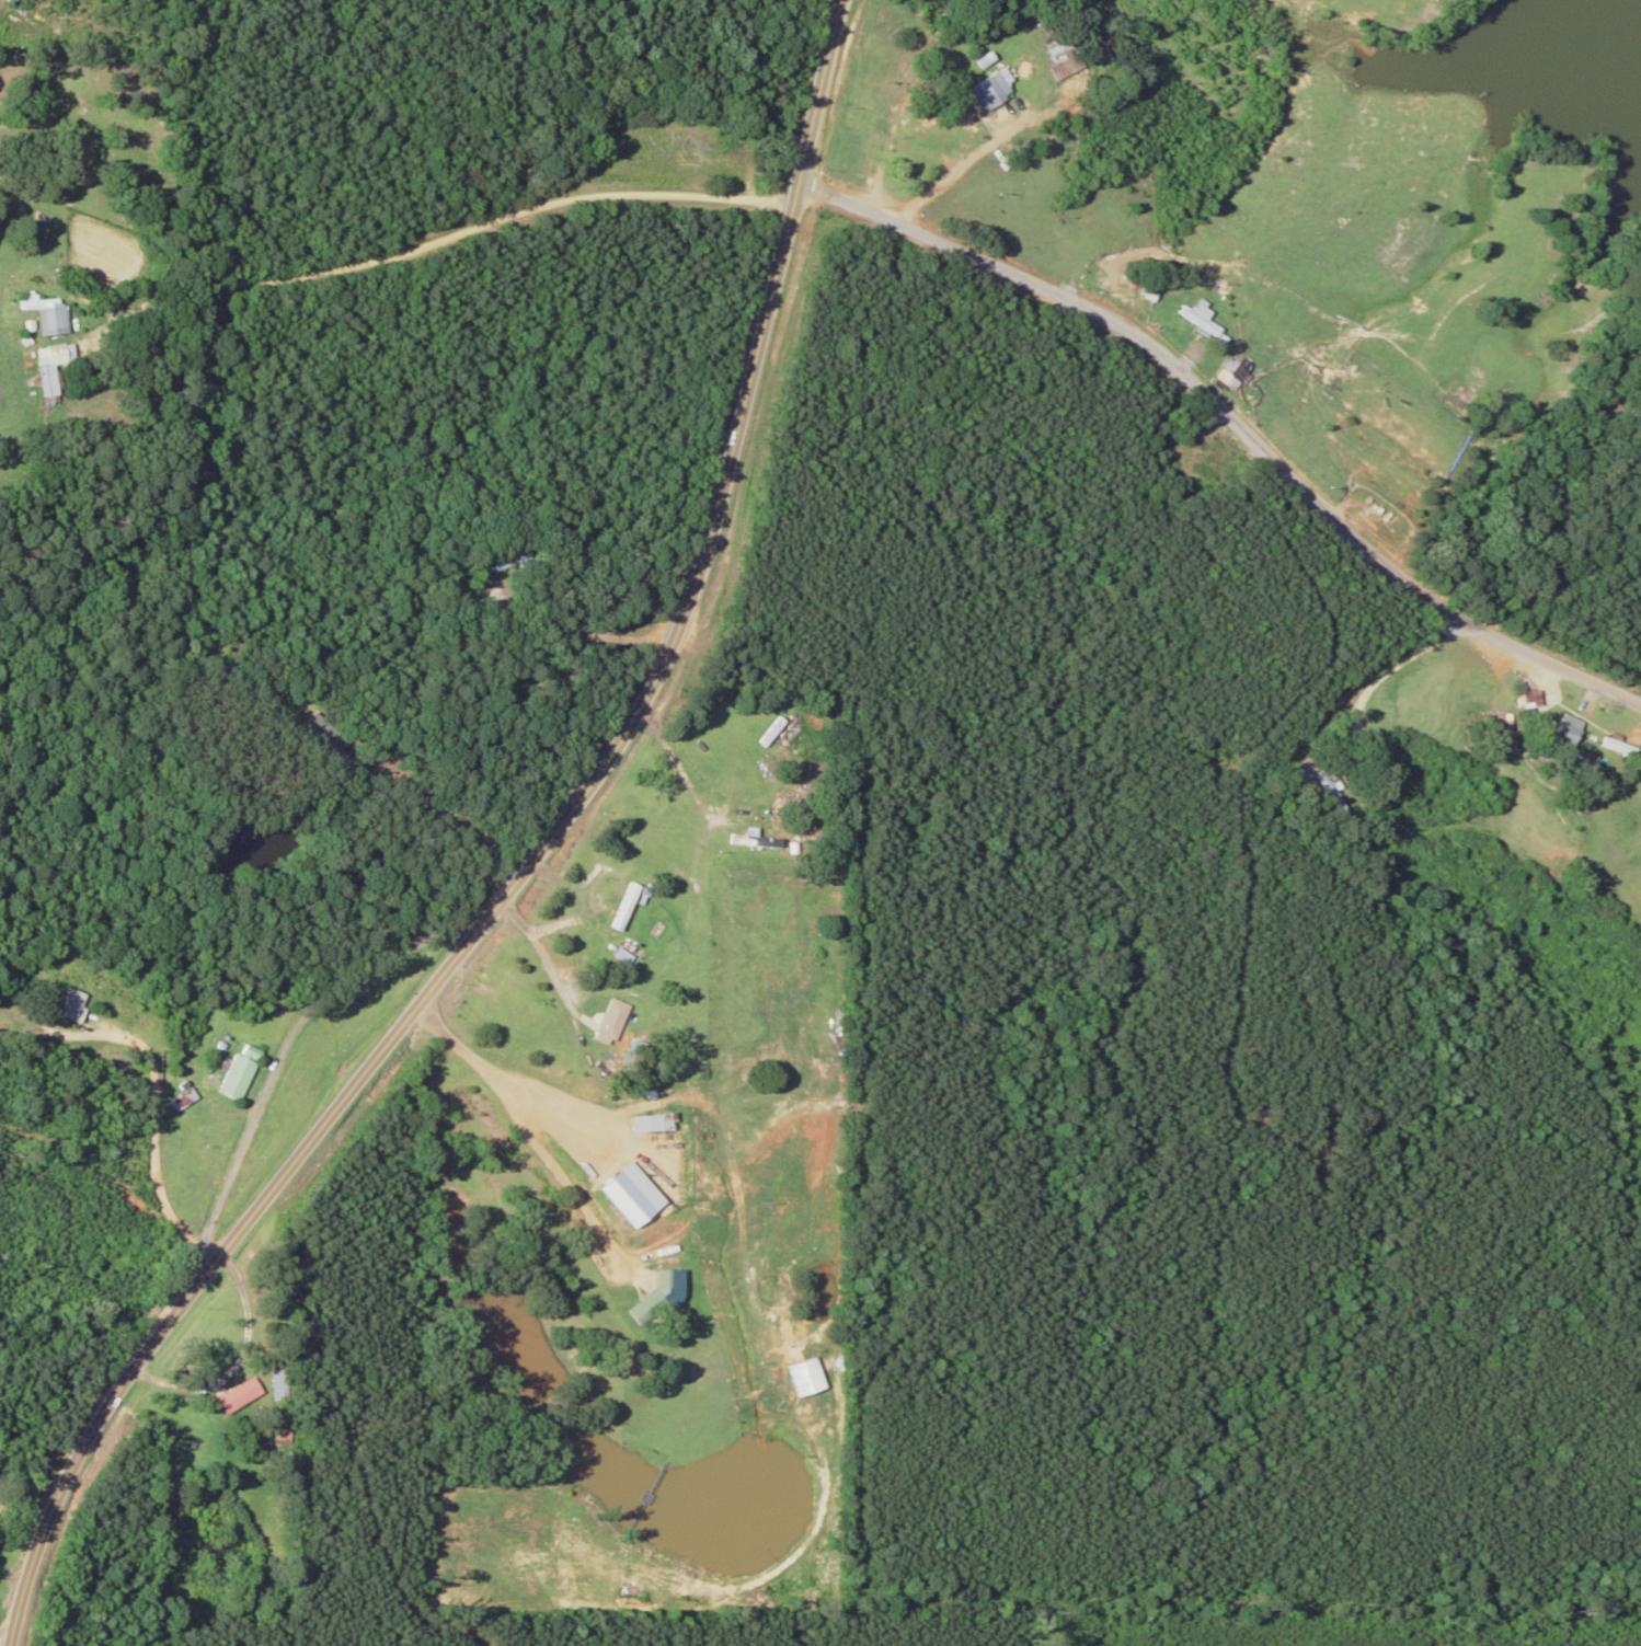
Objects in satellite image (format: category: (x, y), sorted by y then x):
building: (11, 1)
building: (1068, 67)
building: (989, 89)
building: (1013, 157)
road: (460, 251)
building: (55, 315)
building: (1200, 316)
building: (53, 371)
building: (1228, 372)
building: (80, 373)
road: (1227, 459)
building: (494, 561)
building: (1518, 699)
building: (1492, 723)
building: (1553, 730)
building: (326, 734)
building: (1608, 747)
road: (518, 849)
building: (620, 902)
building: (72, 1004)
building: (601, 1022)
road: (269, 1027)
building: (242, 1072)
building: (651, 1143)
road: (493, 1155)
building: (639, 1199)
road: (1145, 1217)
road: (177, 1252)
building: (661, 1292)
road: (481, 1330)
building: (280, 1385)
building: (240, 1395)

